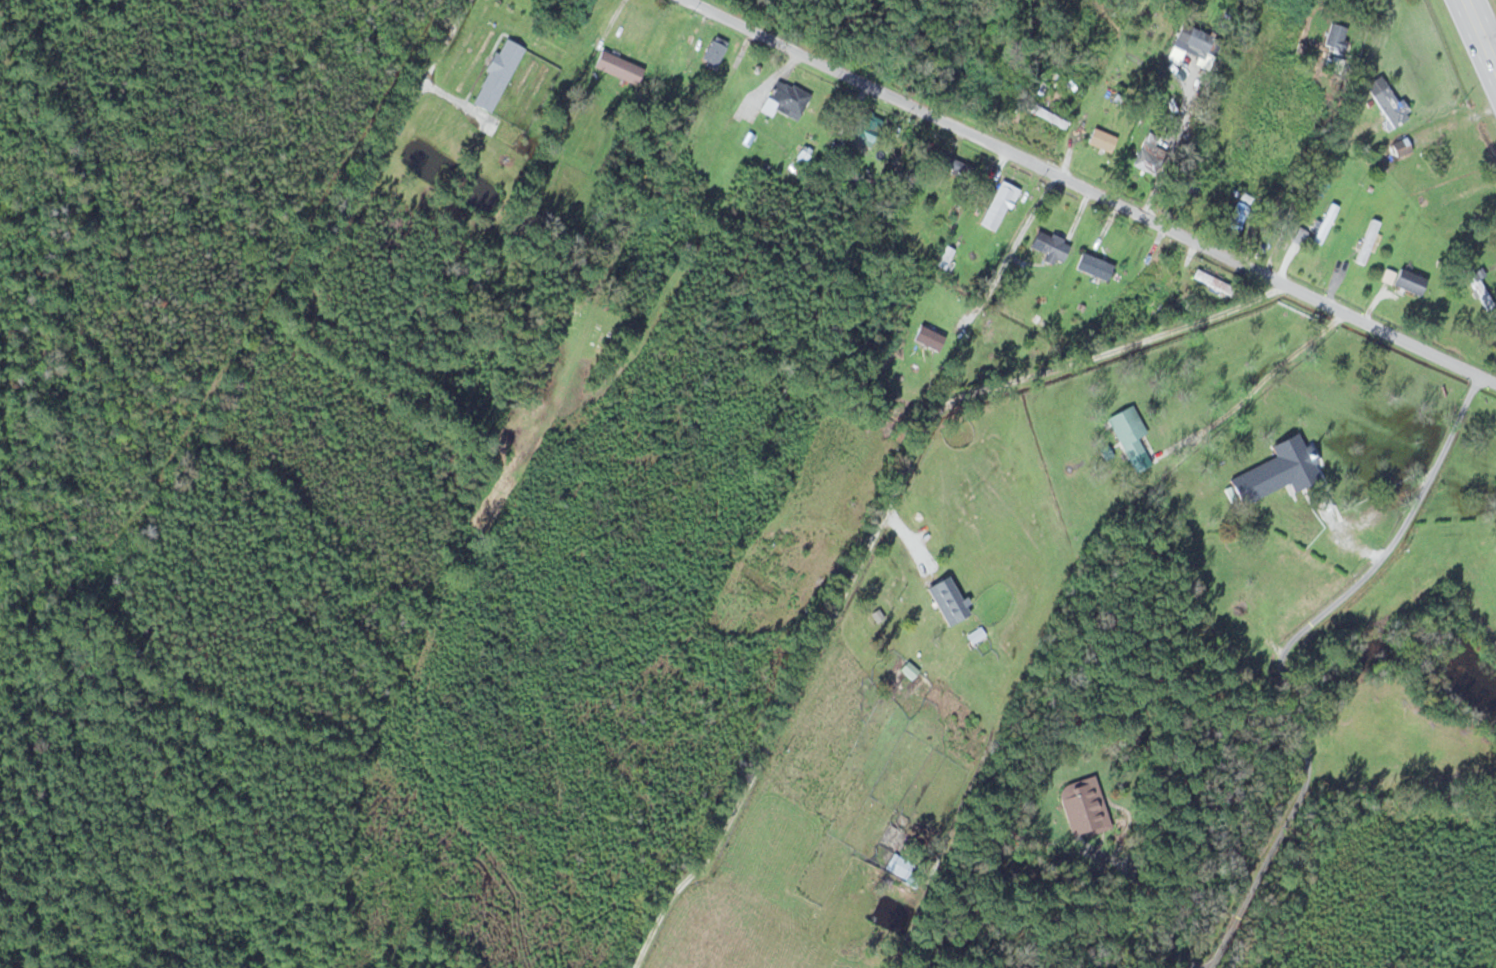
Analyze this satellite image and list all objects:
road: (1481, 32)
building: (1191, 36)
building: (1335, 37)
building: (713, 51)
building: (616, 66)
building: (496, 74)
building: (787, 98)
building: (1386, 100)
building: (1048, 116)
building: (867, 128)
building: (1103, 137)
building: (887, 150)
building: (1148, 154)
building: (949, 165)
building: (774, 180)
road: (1093, 187)
building: (997, 206)
building: (1234, 218)
building: (1324, 223)
building: (1366, 241)
building: (1048, 246)
building: (944, 257)
building: (1092, 266)
building: (1161, 276)
building: (1210, 281)
building: (1408, 281)
building: (1477, 286)
building: (1022, 298)
building: (898, 304)
building: (1120, 318)
building: (927, 338)
building: (1126, 431)
building: (1277, 471)
road: (877, 526)
building: (760, 583)
building: (946, 597)
road: (1282, 655)
building: (908, 670)
building: (1081, 806)
building: (900, 868)

